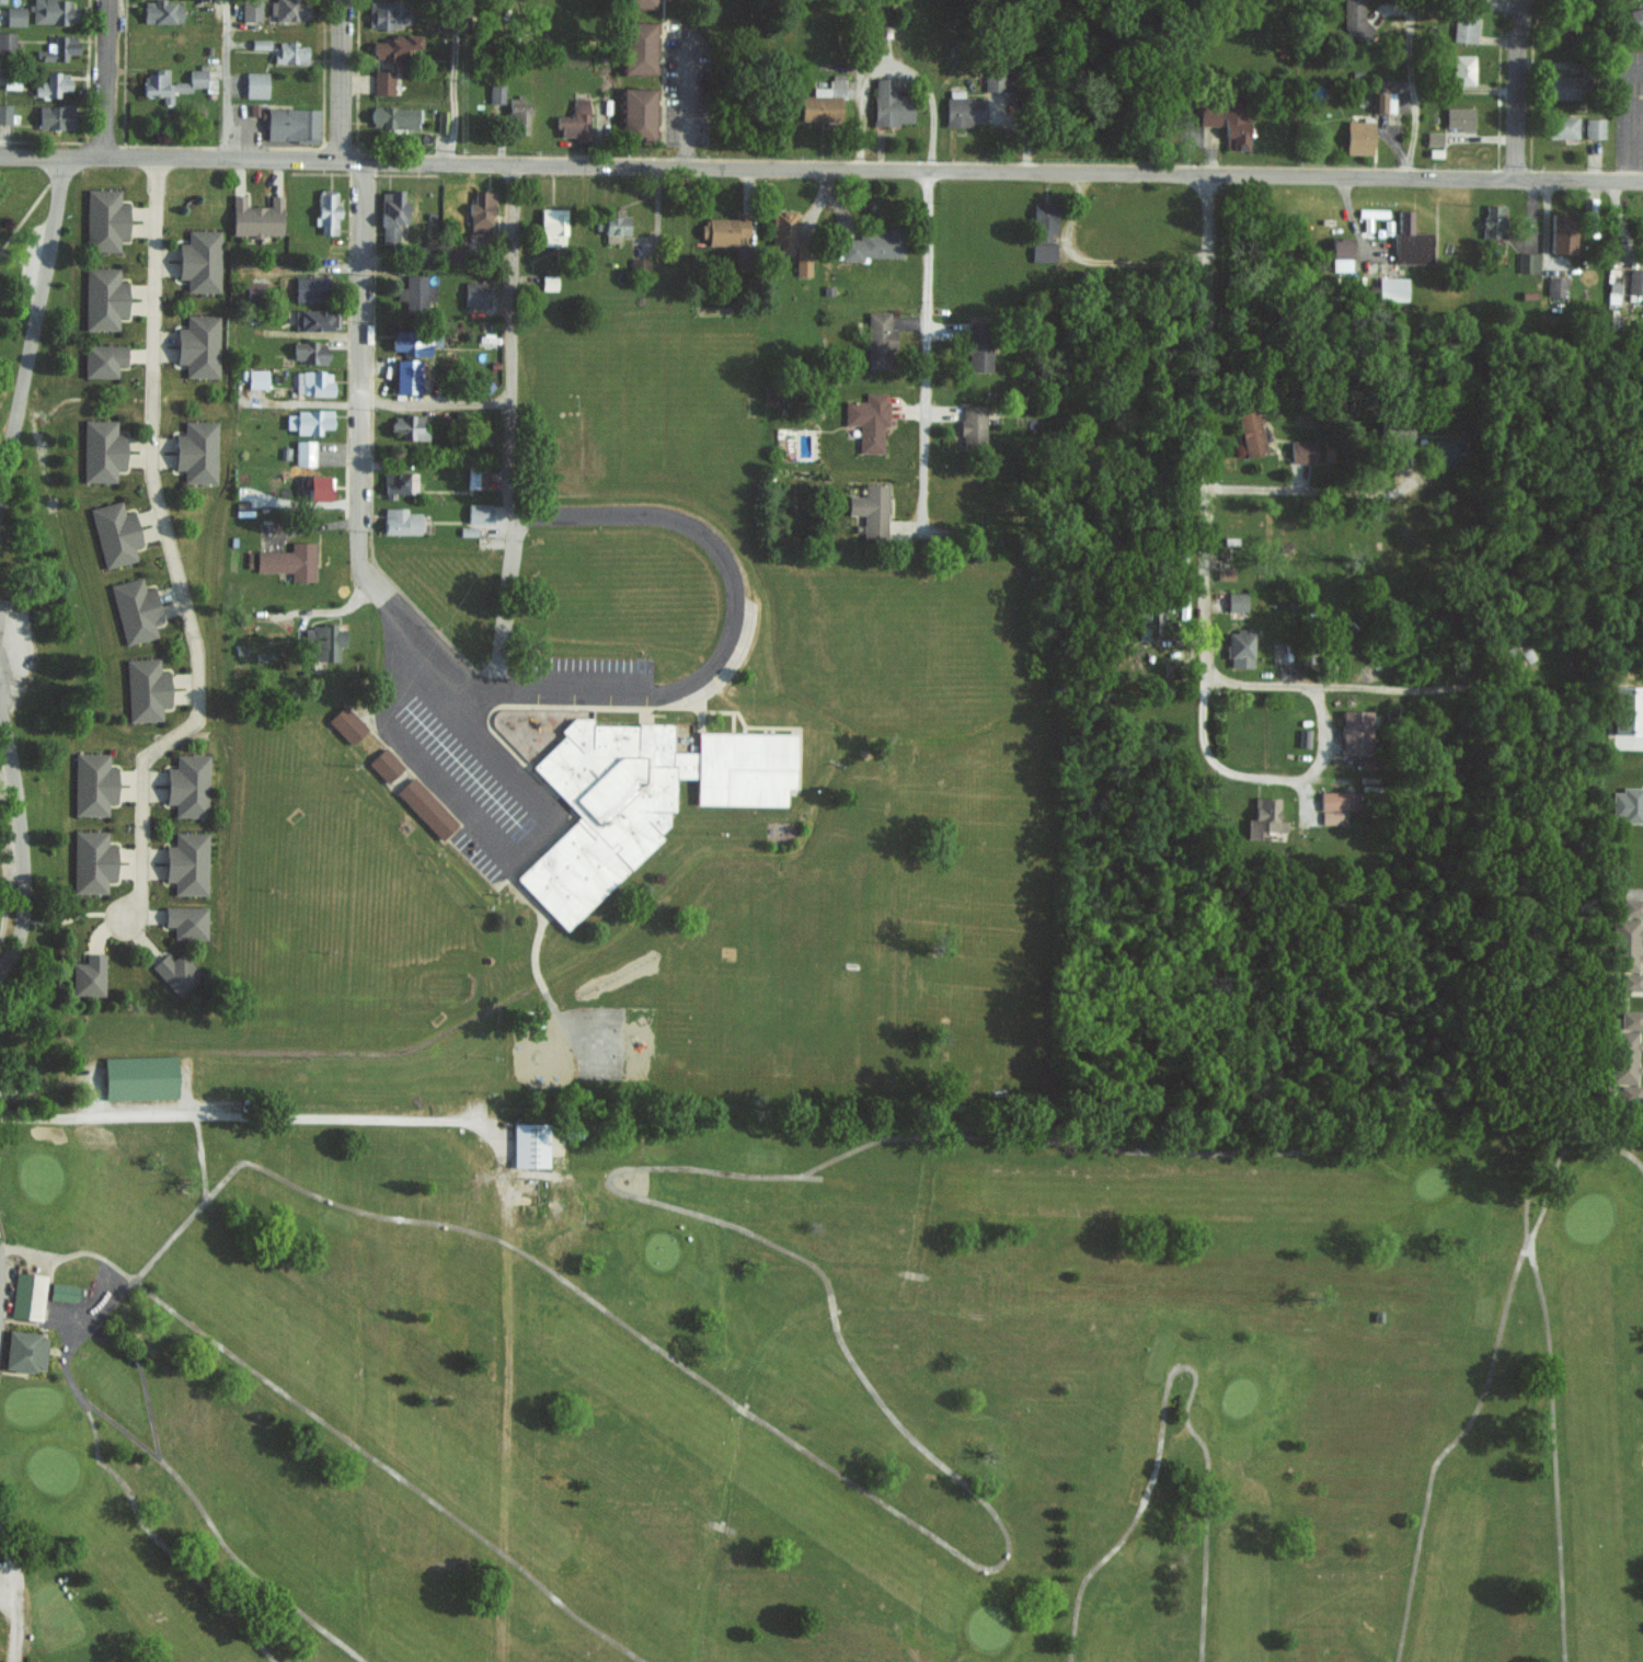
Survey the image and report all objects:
building: (639, 2)
building: (250, 10)
building: (288, 10)
building: (53, 11)
building: (161, 11)
building: (388, 13)
building: (14, 15)
building: (1355, 18)
building: (1636, 18)
building: (1467, 22)
building: (1569, 26)
building: (882, 28)
building: (393, 45)
building: (59, 47)
building: (637, 47)
building: (289, 53)
road: (893, 68)
building: (1462, 68)
road: (103, 77)
road: (227, 79)
building: (997, 79)
road: (338, 80)
building: (382, 81)
road: (452, 81)
building: (171, 82)
building: (51, 83)
building: (255, 84)
building: (1564, 87)
road: (1517, 89)
road: (1413, 91)
building: (495, 92)
road: (680, 96)
building: (824, 101)
building: (1382, 101)
building: (891, 103)
building: (964, 108)
building: (4, 112)
building: (518, 112)
building: (637, 112)
building: (1209, 114)
building: (55, 115)
building: (392, 116)
building: (1459, 116)
building: (575, 121)
building: (1234, 123)
building: (291, 124)
building: (1562, 126)
building: (1594, 127)
building: (1358, 137)
building: (1433, 137)
road: (820, 168)
road: (30, 206)
building: (326, 210)
building: (391, 213)
building: (481, 213)
building: (256, 216)
building: (104, 219)
building: (1044, 220)
building: (1493, 220)
building: (552, 226)
building: (614, 227)
building: (723, 229)
building: (1562, 232)
building: (790, 240)
building: (1411, 241)
building: (873, 244)
building: (1043, 251)
building: (1341, 253)
building: (738, 255)
building: (199, 260)
building: (1528, 262)
building: (639, 264)
park: (21, 275)
building: (1635, 280)
building: (548, 282)
building: (1556, 285)
building: (309, 287)
building: (1391, 288)
building: (254, 291)
building: (415, 291)
building: (475, 293)
building: (1612, 293)
building: (103, 297)
road: (32, 317)
building: (314, 319)
building: (878, 340)
building: (411, 342)
building: (197, 345)
building: (978, 345)
road: (931, 349)
building: (309, 352)
road: (358, 357)
building: (102, 359)
building: (406, 375)
building: (256, 378)
building: (312, 382)
building: (772, 394)
road: (435, 401)
building: (868, 420)
building: (308, 421)
building: (973, 424)
building: (409, 425)
road: (512, 426)
building: (1251, 433)
building: (101, 450)
building: (303, 450)
building: (1302, 450)
building: (196, 451)
building: (1449, 451)
road: (1207, 460)
building: (475, 478)
building: (399, 481)
building: (319, 488)
road: (1295, 490)
building: (871, 507)
building: (479, 513)
building: (400, 520)
building: (114, 532)
road: (169, 551)
building: (288, 561)
building: (1225, 574)
building: (1237, 600)
building: (135, 609)
building: (1148, 623)
building: (323, 641)
building: (1240, 647)
road: (1330, 684)
road: (686, 688)
building: (146, 689)
building: (346, 724)
building: (1356, 732)
building: (384, 765)
road: (1301, 779)
building: (92, 783)
building: (187, 784)
building: (639, 799)
building: (1335, 800)
building: (1627, 804)
building: (425, 807)
building: (1264, 817)
building: (1330, 817)
road: (20, 828)
park: (8, 836)
road: (493, 841)
building: (92, 861)
building: (186, 862)
building: (1632, 907)
building: (186, 921)
building: (1627, 943)
building: (176, 973)
building: (88, 975)
building: (1632, 981)
building: (1631, 1019)
building: (1624, 1056)
building: (139, 1077)
building: (1630, 1093)
road: (252, 1111)
building: (530, 1145)
road: (1612, 1147)
road: (1289, 1154)
road: (225, 1182)
road: (668, 1206)
road: (154, 1259)
building: (62, 1291)
building: (27, 1295)
road: (93, 1327)
building: (24, 1350)
road: (1176, 1372)
road: (145, 1382)
park: (813, 1391)
road: (734, 1402)
road: (1554, 1415)
road: (391, 1471)
road: (1431, 1489)
road: (211, 1524)
road: (161, 1543)
road: (14, 1601)

